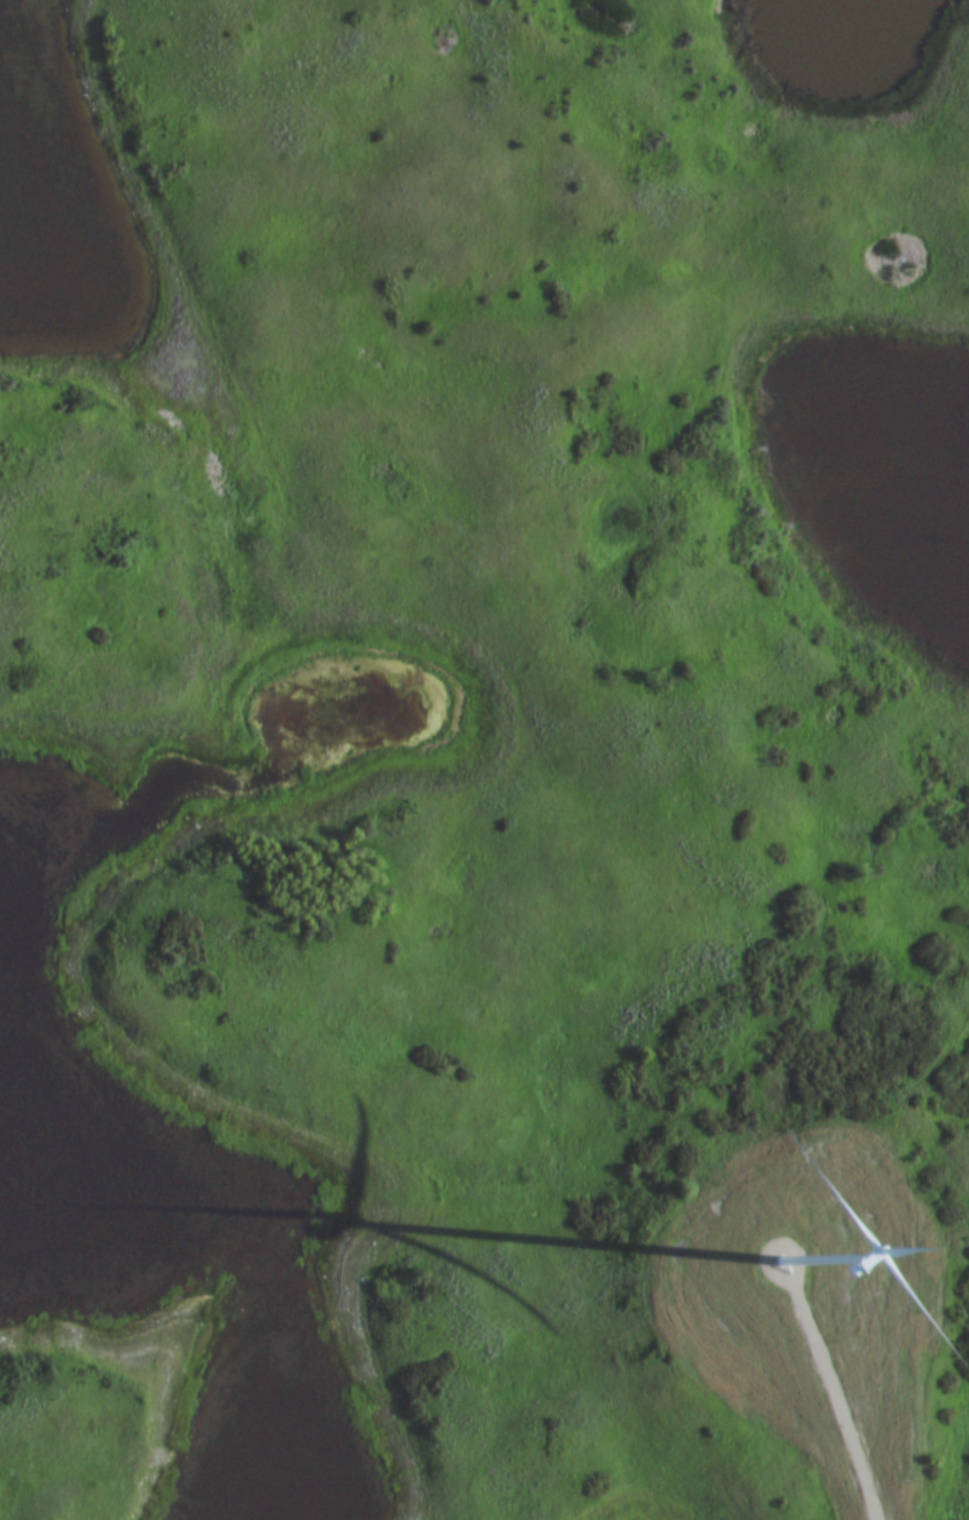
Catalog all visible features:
wind turbine: (785, 1259)

